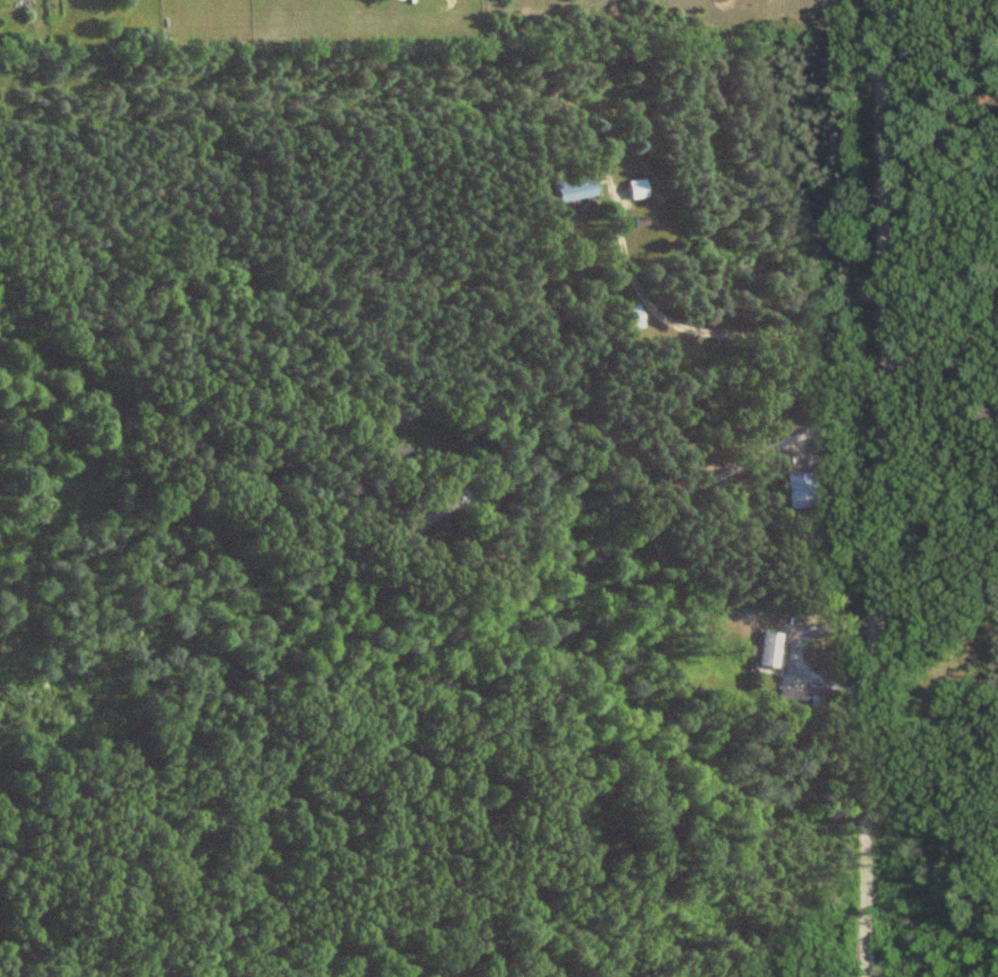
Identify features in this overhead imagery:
building: (571, 189)
building: (636, 190)
building: (632, 318)
road: (715, 333)
road: (942, 345)
road: (883, 488)
building: (799, 491)
building: (428, 509)
building: (769, 650)
building: (796, 700)

